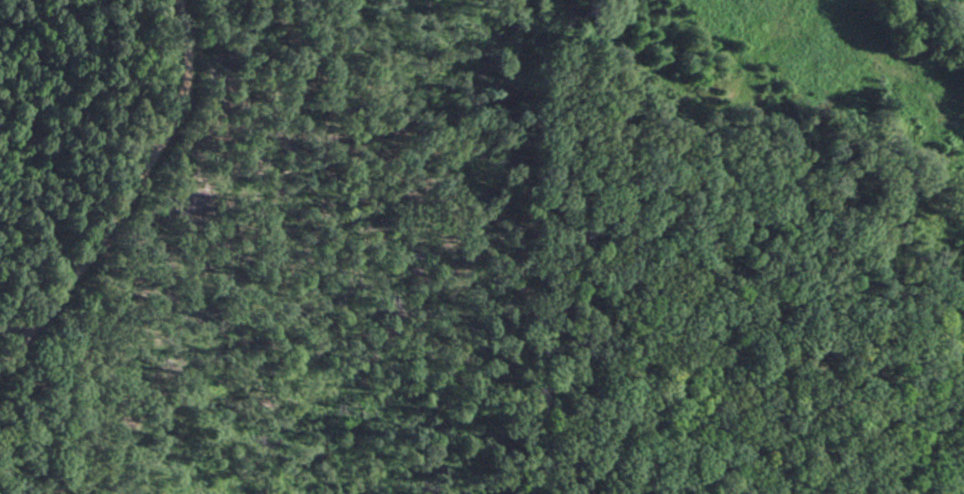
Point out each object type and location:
road: (120, 189)

